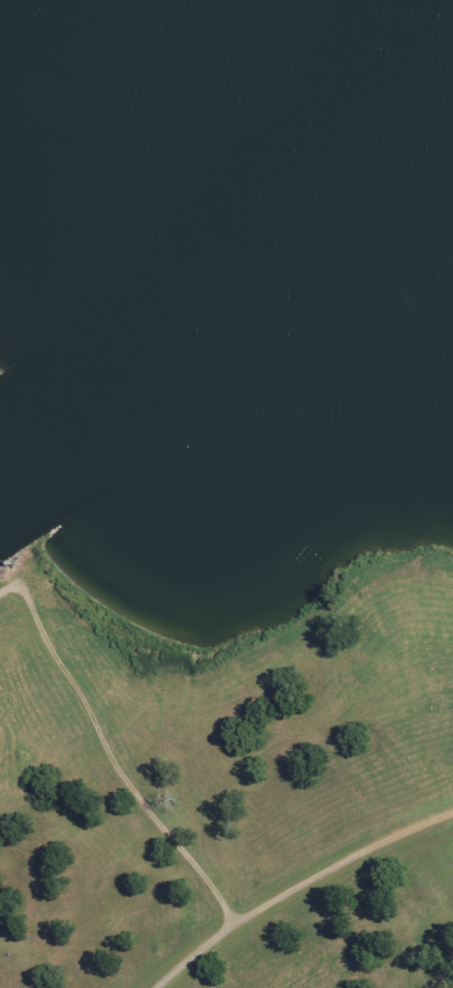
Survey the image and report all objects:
road: (292, 888)

